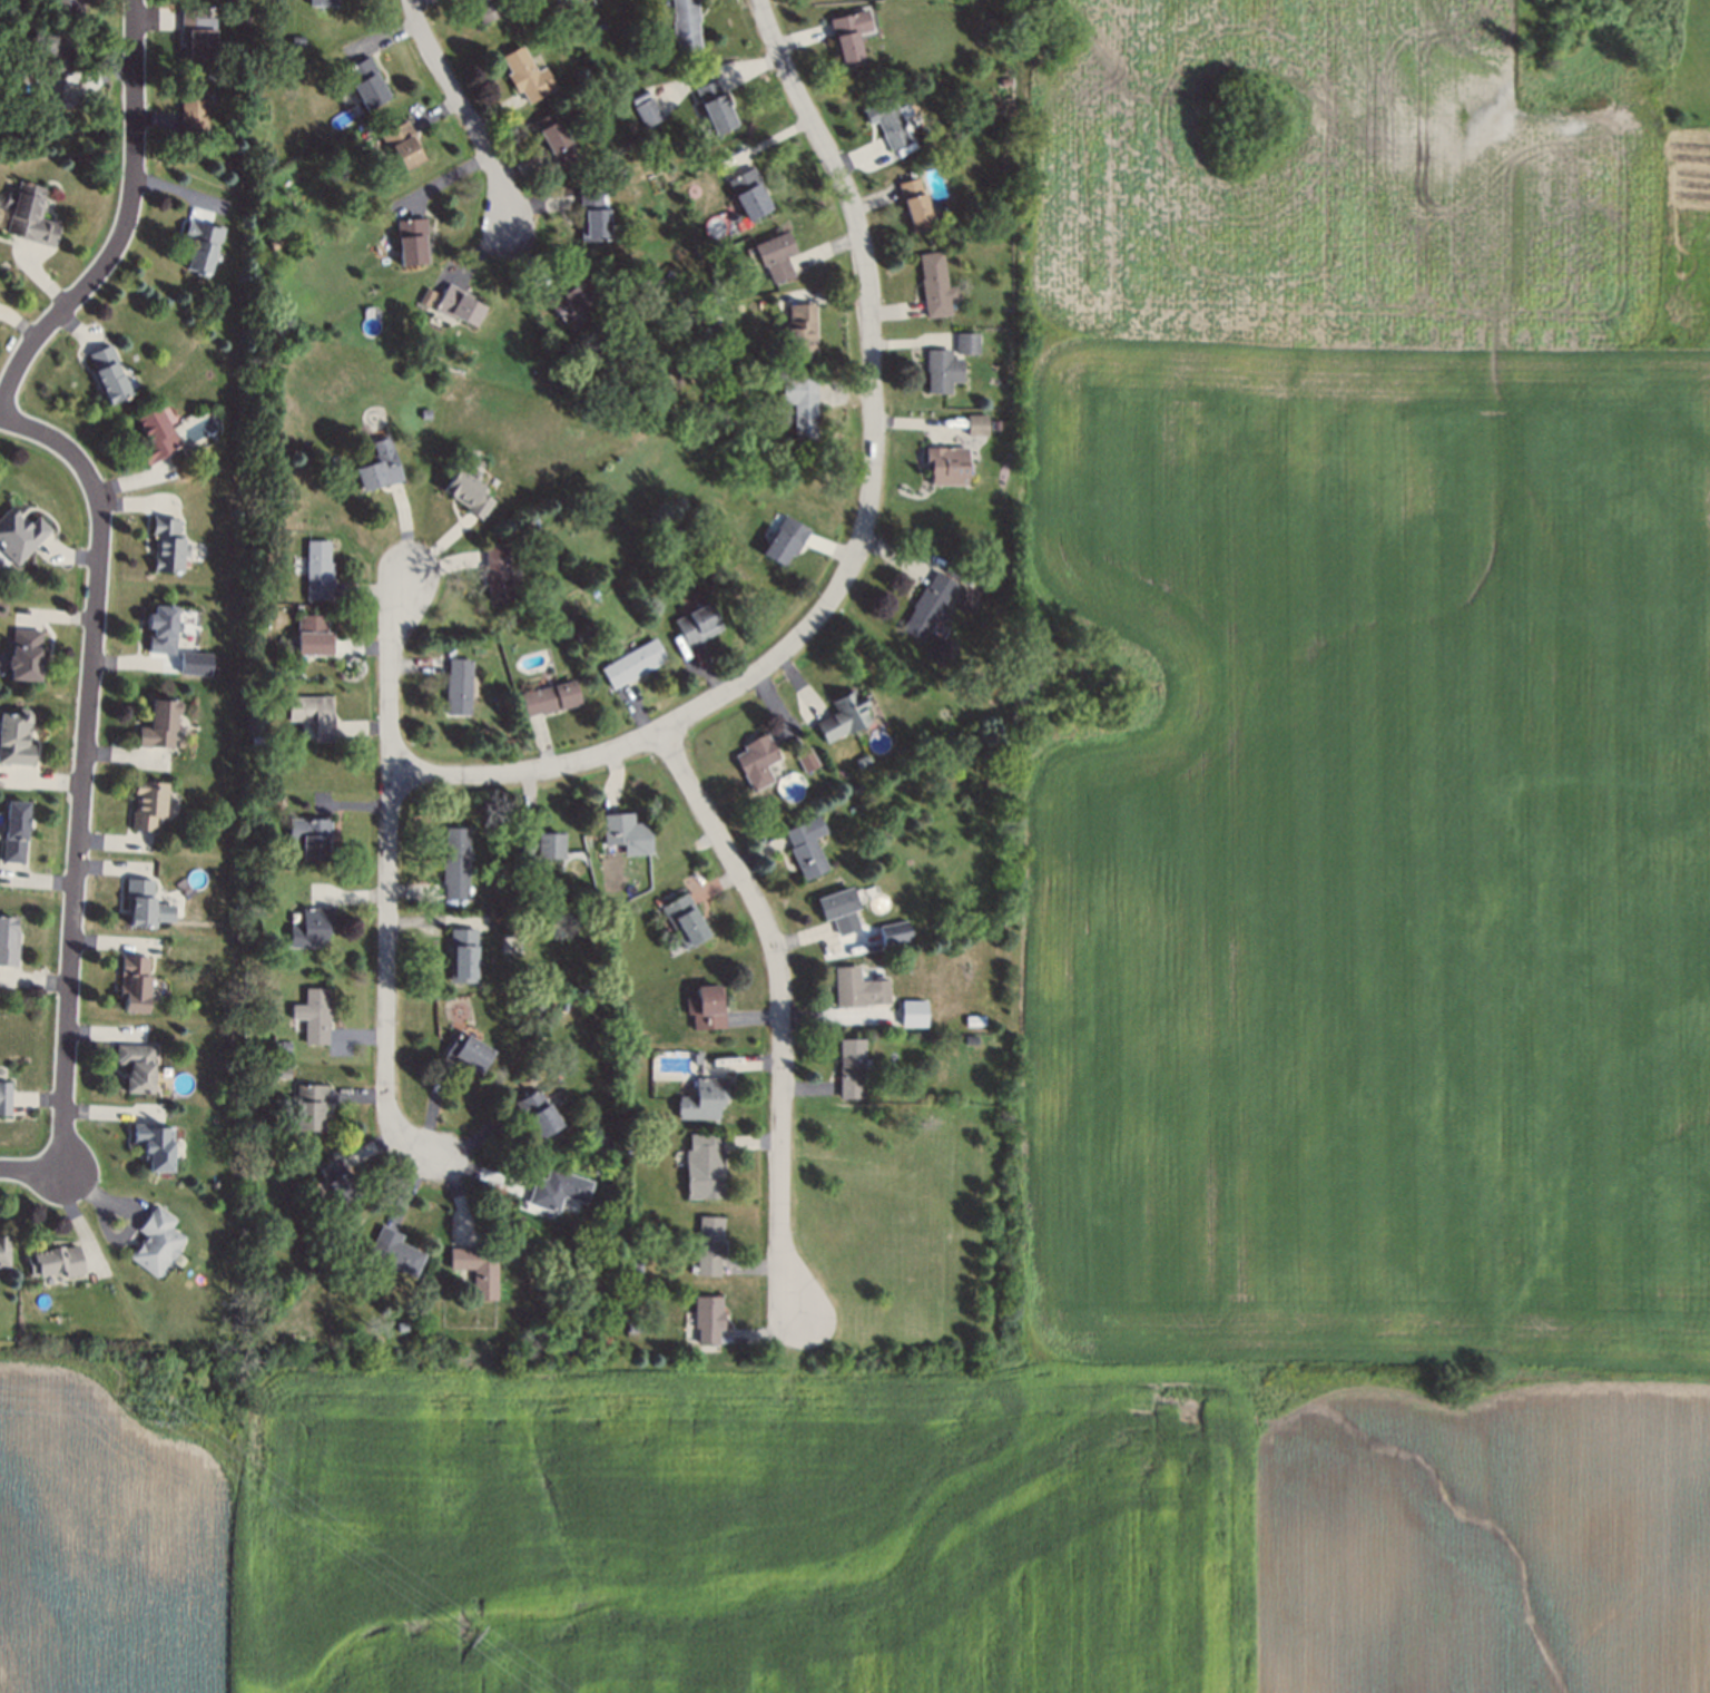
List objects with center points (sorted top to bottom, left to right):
building: (325, 3)
building: (69, 6)
building: (485, 9)
building: (685, 25)
building: (197, 37)
building: (298, 40)
building: (845, 42)
building: (61, 55)
building: (527, 78)
building: (1006, 80)
building: (366, 85)
building: (48, 92)
building: (193, 106)
building: (716, 107)
road: (460, 110)
building: (648, 111)
building: (888, 124)
building: (554, 141)
building: (403, 146)
building: (269, 159)
crop: (1324, 177)
building: (749, 197)
building: (914, 207)
building: (30, 217)
building: (592, 219)
road: (122, 225)
building: (413, 243)
building: (275, 244)
building: (200, 246)
building: (259, 256)
building: (775, 256)
building: (934, 288)
building: (427, 299)
building: (570, 302)
building: (264, 306)
building: (459, 306)
building: (803, 332)
road: (869, 341)
building: (967, 341)
building: (942, 366)
building: (108, 376)
building: (805, 419)
building: (980, 423)
building: (1006, 424)
building: (153, 438)
building: (379, 466)
building: (946, 469)
building: (469, 495)
building: (19, 536)
building: (785, 542)
building: (166, 547)
building: (318, 573)
building: (957, 575)
building: (498, 578)
building: (928, 607)
building: (697, 624)
building: (161, 630)
building: (313, 637)
building: (24, 657)
building: (193, 663)
building: (635, 665)
building: (458, 688)
building: (550, 701)
building: (311, 714)
building: (844, 718)
building: (158, 727)
building: (14, 737)
road: (584, 759)
building: (804, 760)
building: (864, 760)
building: (757, 763)
road: (75, 770)
building: (146, 806)
building: (13, 832)
building: (627, 834)
building: (311, 839)
building: (807, 844)
building: (539, 845)
crop: (1377, 851)
building: (456, 864)
road: (385, 877)
building: (144, 908)
building: (839, 911)
building: (684, 919)
building: (972, 926)
building: (309, 929)
building: (895, 934)
building: (7, 943)
building: (462, 957)
building: (132, 982)
building: (857, 990)
building: (708, 1010)
building: (314, 1014)
road: (777, 1015)
building: (914, 1016)
building: (976, 1024)
building: (285, 1047)
building: (468, 1055)
building: (138, 1069)
building: (849, 1069)
building: (283, 1071)
building: (4, 1095)
building: (704, 1100)
building: (309, 1109)
building: (538, 1114)
building: (154, 1146)
building: (707, 1167)
road: (30, 1170)
building: (485, 1175)
building: (340, 1185)
building: (558, 1191)
building: (461, 1208)
building: (157, 1244)
building: (709, 1246)
building: (3, 1252)
building: (395, 1252)
building: (57, 1265)
building: (633, 1268)
building: (480, 1272)
building: (708, 1320)
building: (633, 1329)
building: (529, 1334)
crop: (1490, 1543)

